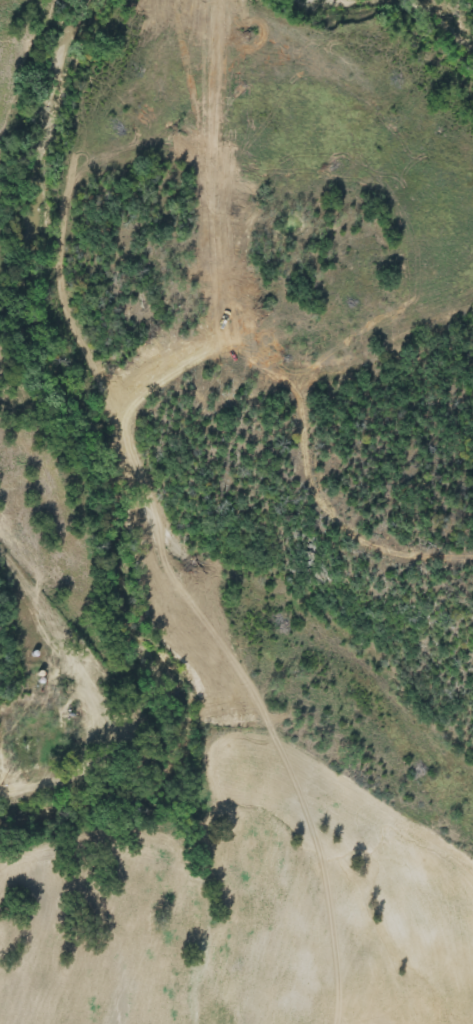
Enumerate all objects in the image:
road: (2, 793)

